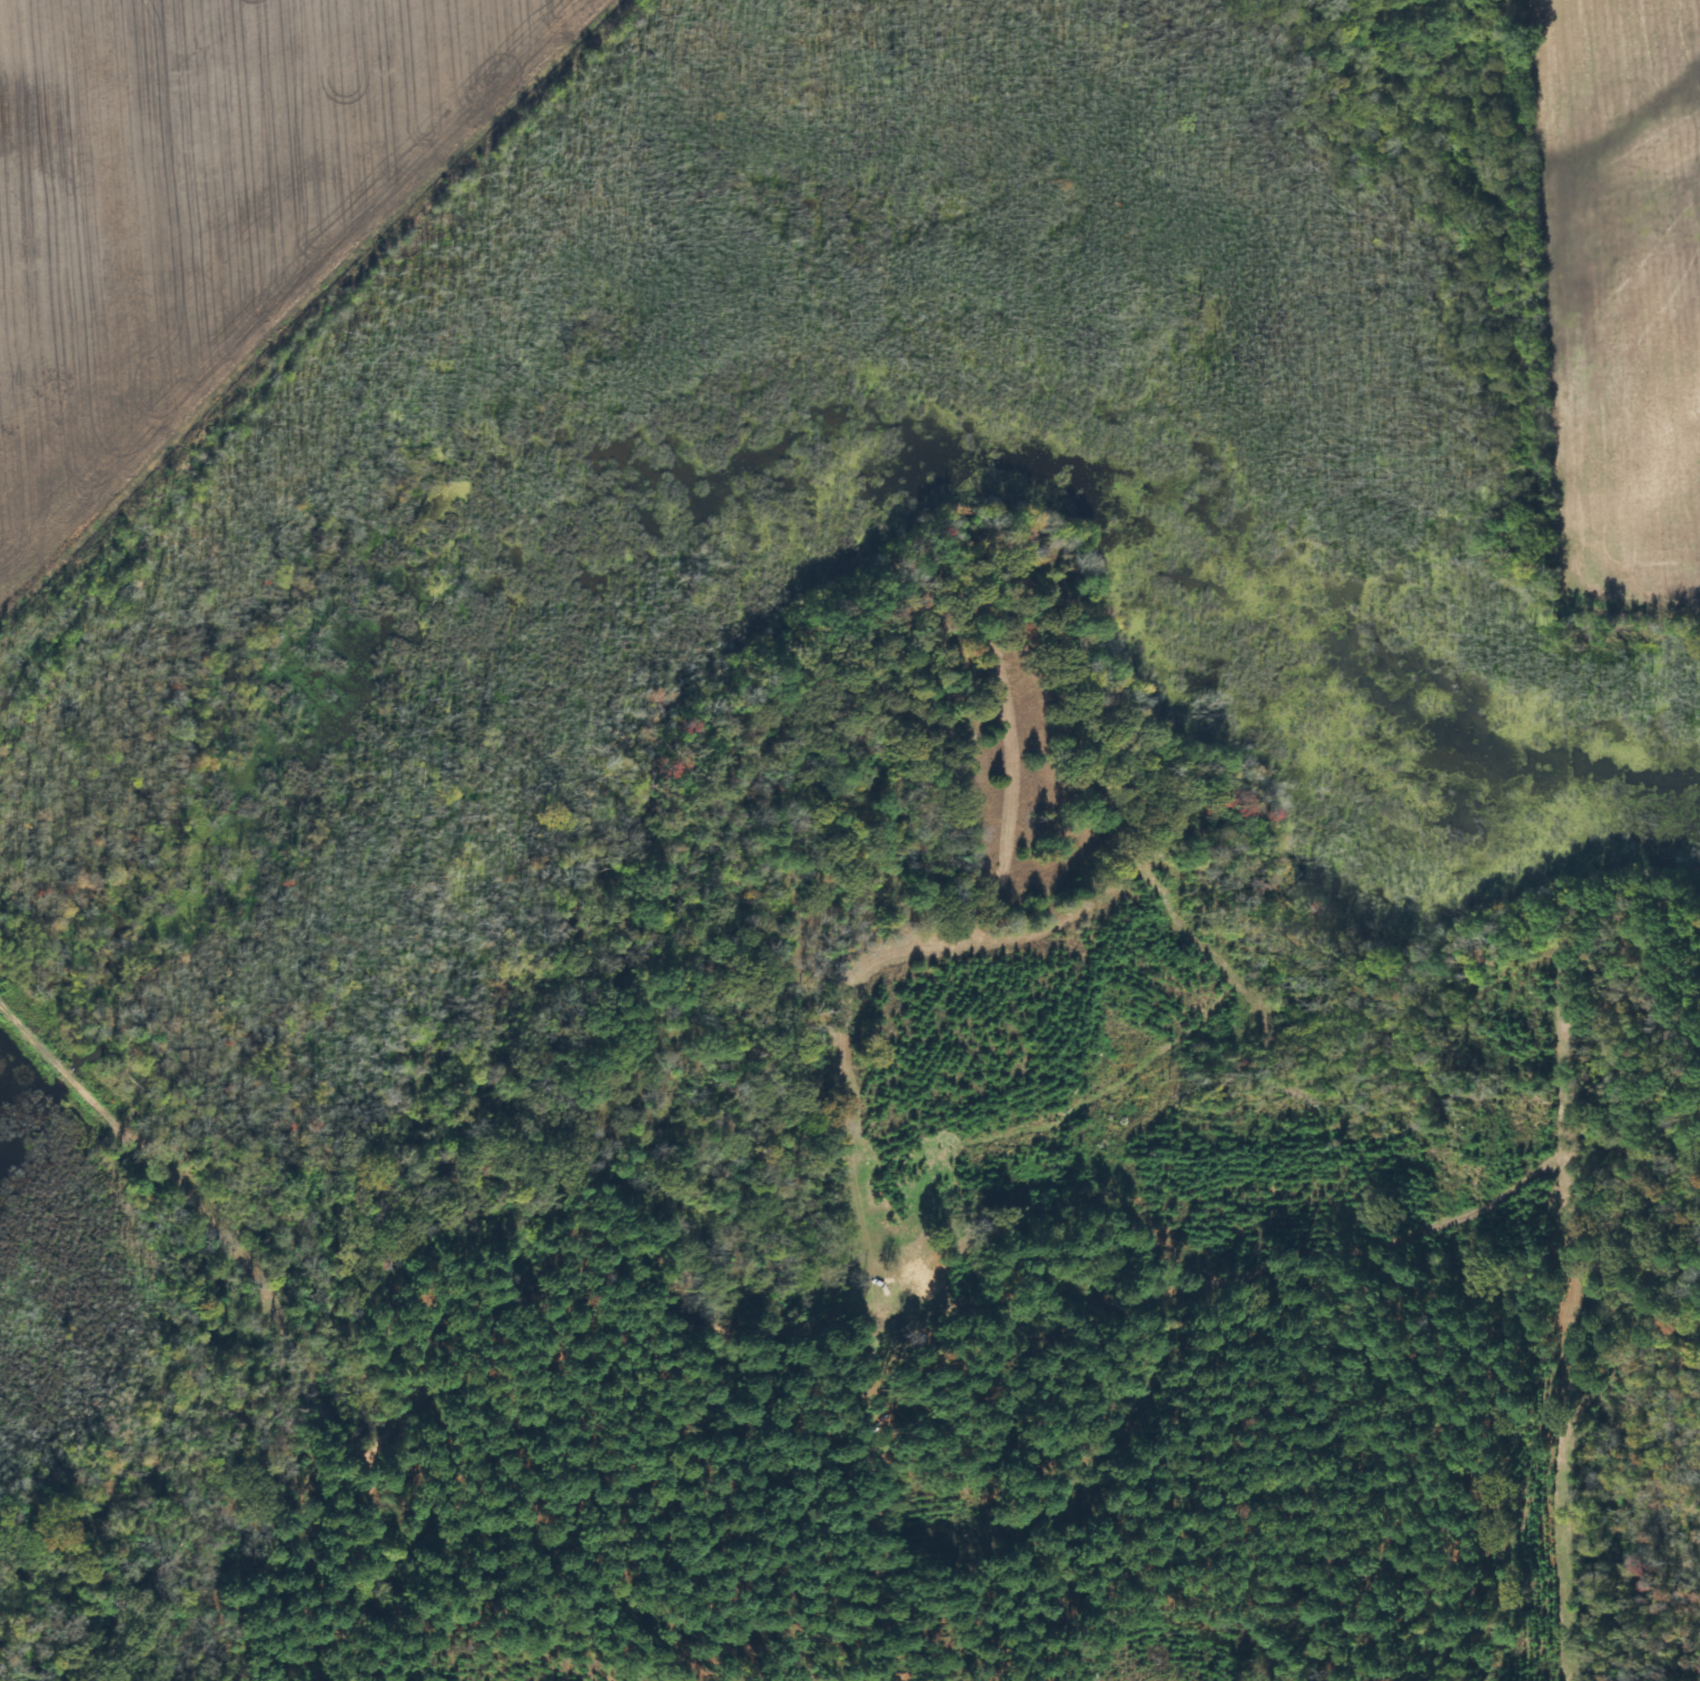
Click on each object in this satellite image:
road: (413, 1669)

